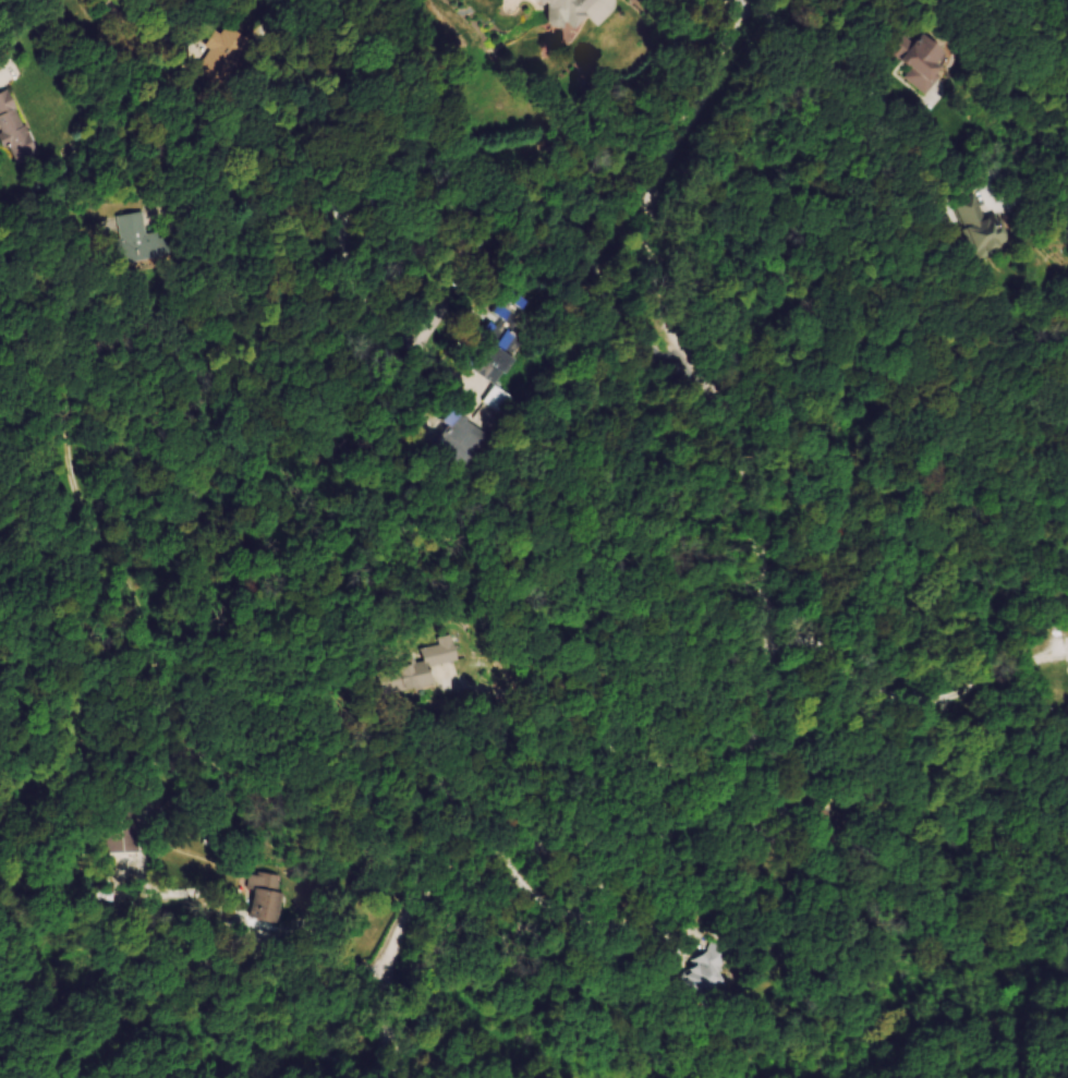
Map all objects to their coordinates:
building: (520, 1)
road: (599, 9)
building: (570, 11)
road: (25, 32)
building: (227, 57)
building: (929, 64)
road: (858, 86)
road: (177, 99)
building: (13, 117)
road: (526, 206)
building: (990, 229)
road: (349, 235)
building: (145, 241)
building: (500, 368)
building: (505, 402)
building: (468, 441)
road: (778, 644)
building: (422, 668)
road: (910, 693)
road: (610, 744)
building: (267, 896)
road: (571, 909)
building: (716, 971)

